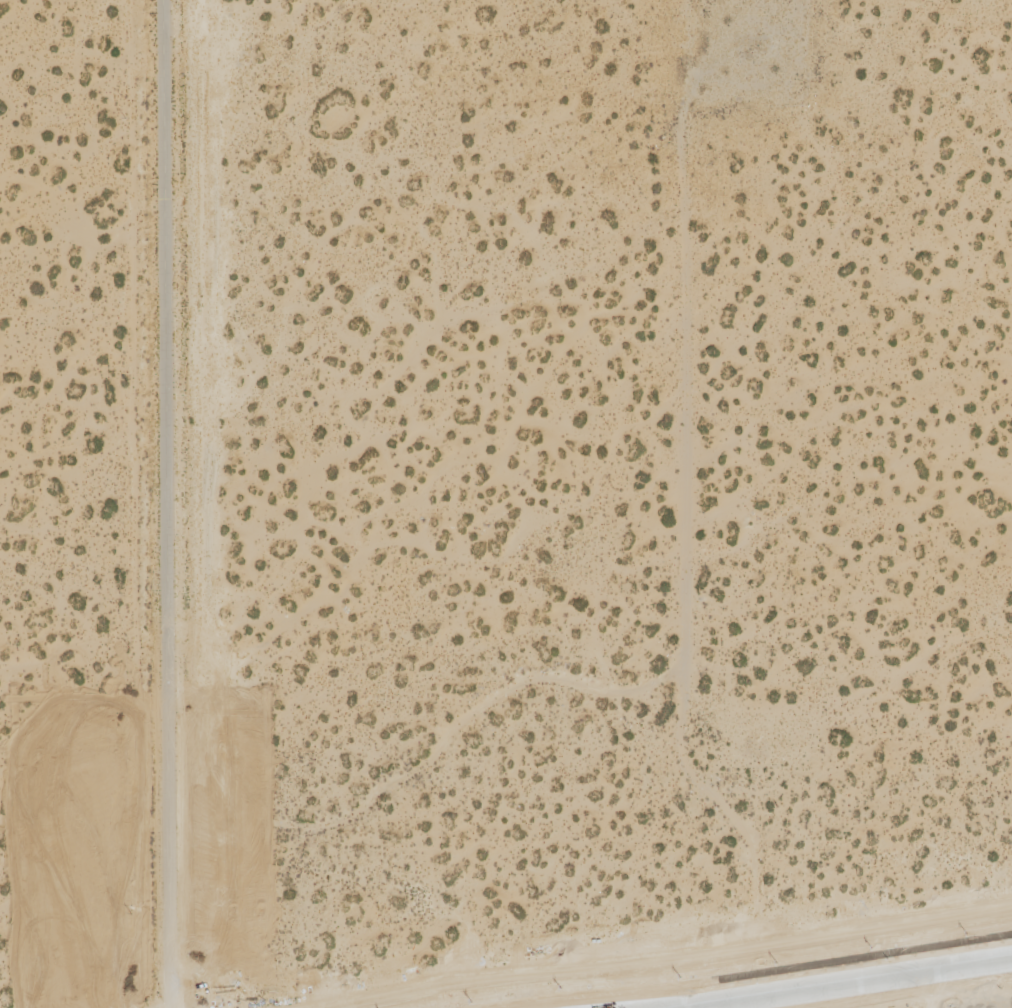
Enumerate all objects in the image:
road: (163, 496)
road: (855, 983)
road: (233, 990)
road: (219, 991)

